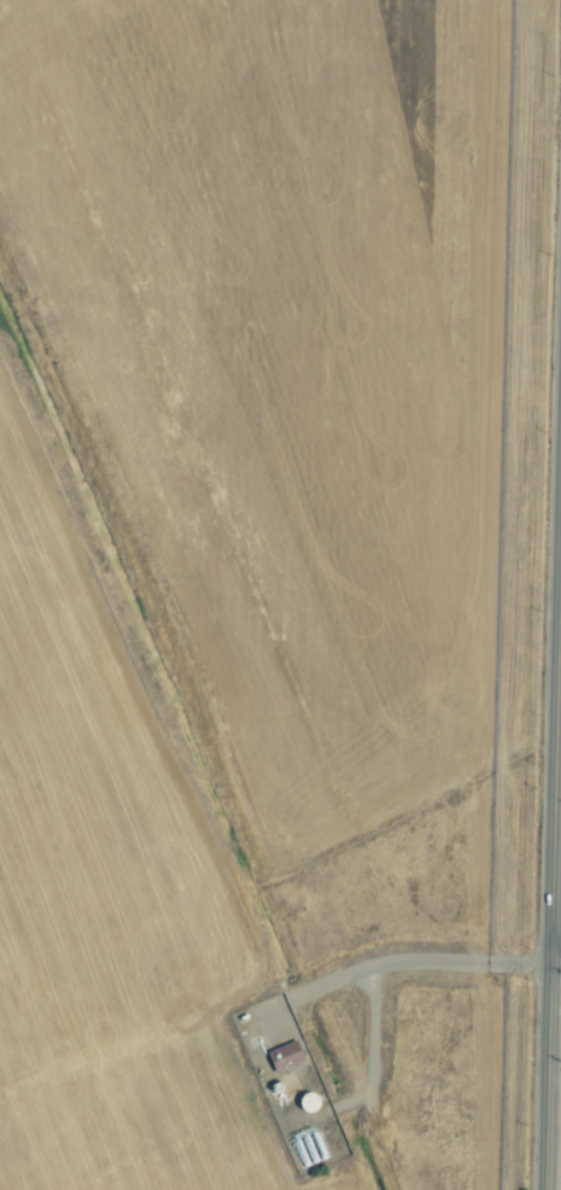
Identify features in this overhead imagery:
road: (551, 870)
road: (398, 963)
road: (555, 968)
road: (373, 1040)
building: (282, 1057)
building: (305, 1103)
road: (328, 1113)

